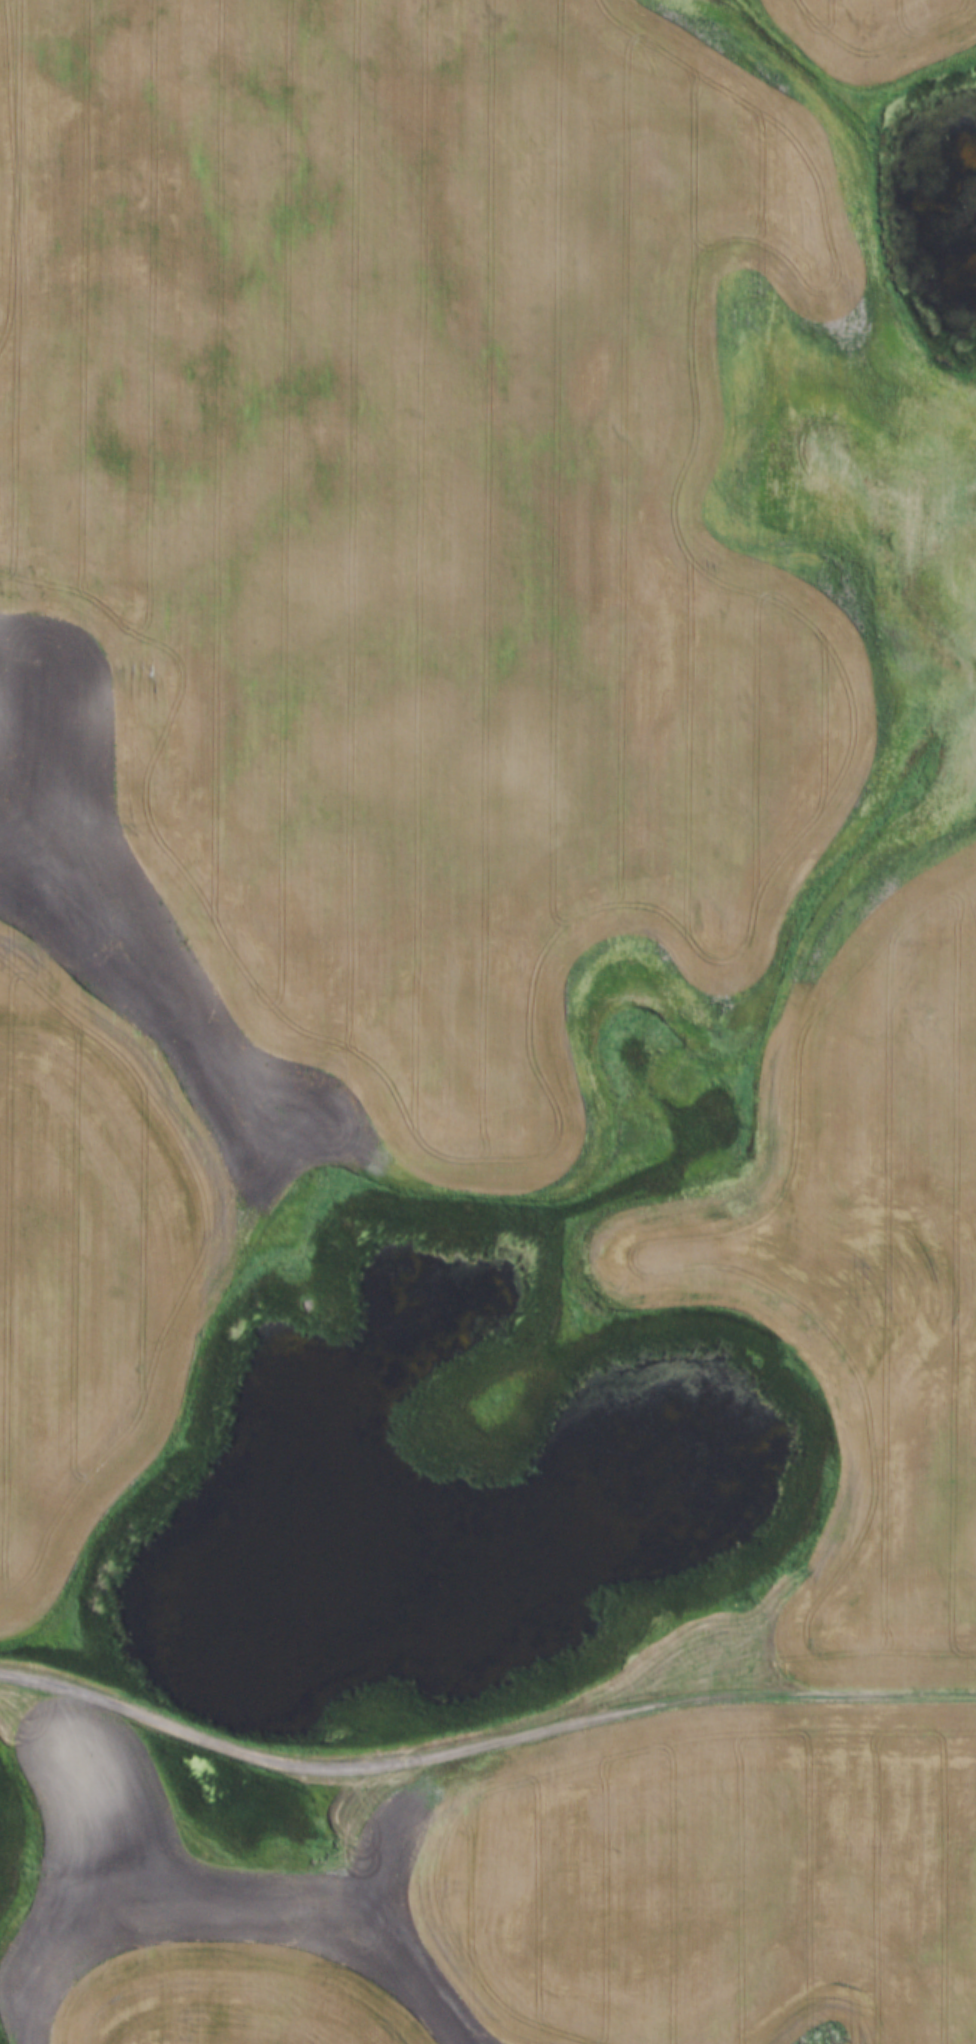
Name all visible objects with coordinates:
road: (482, 1742)

